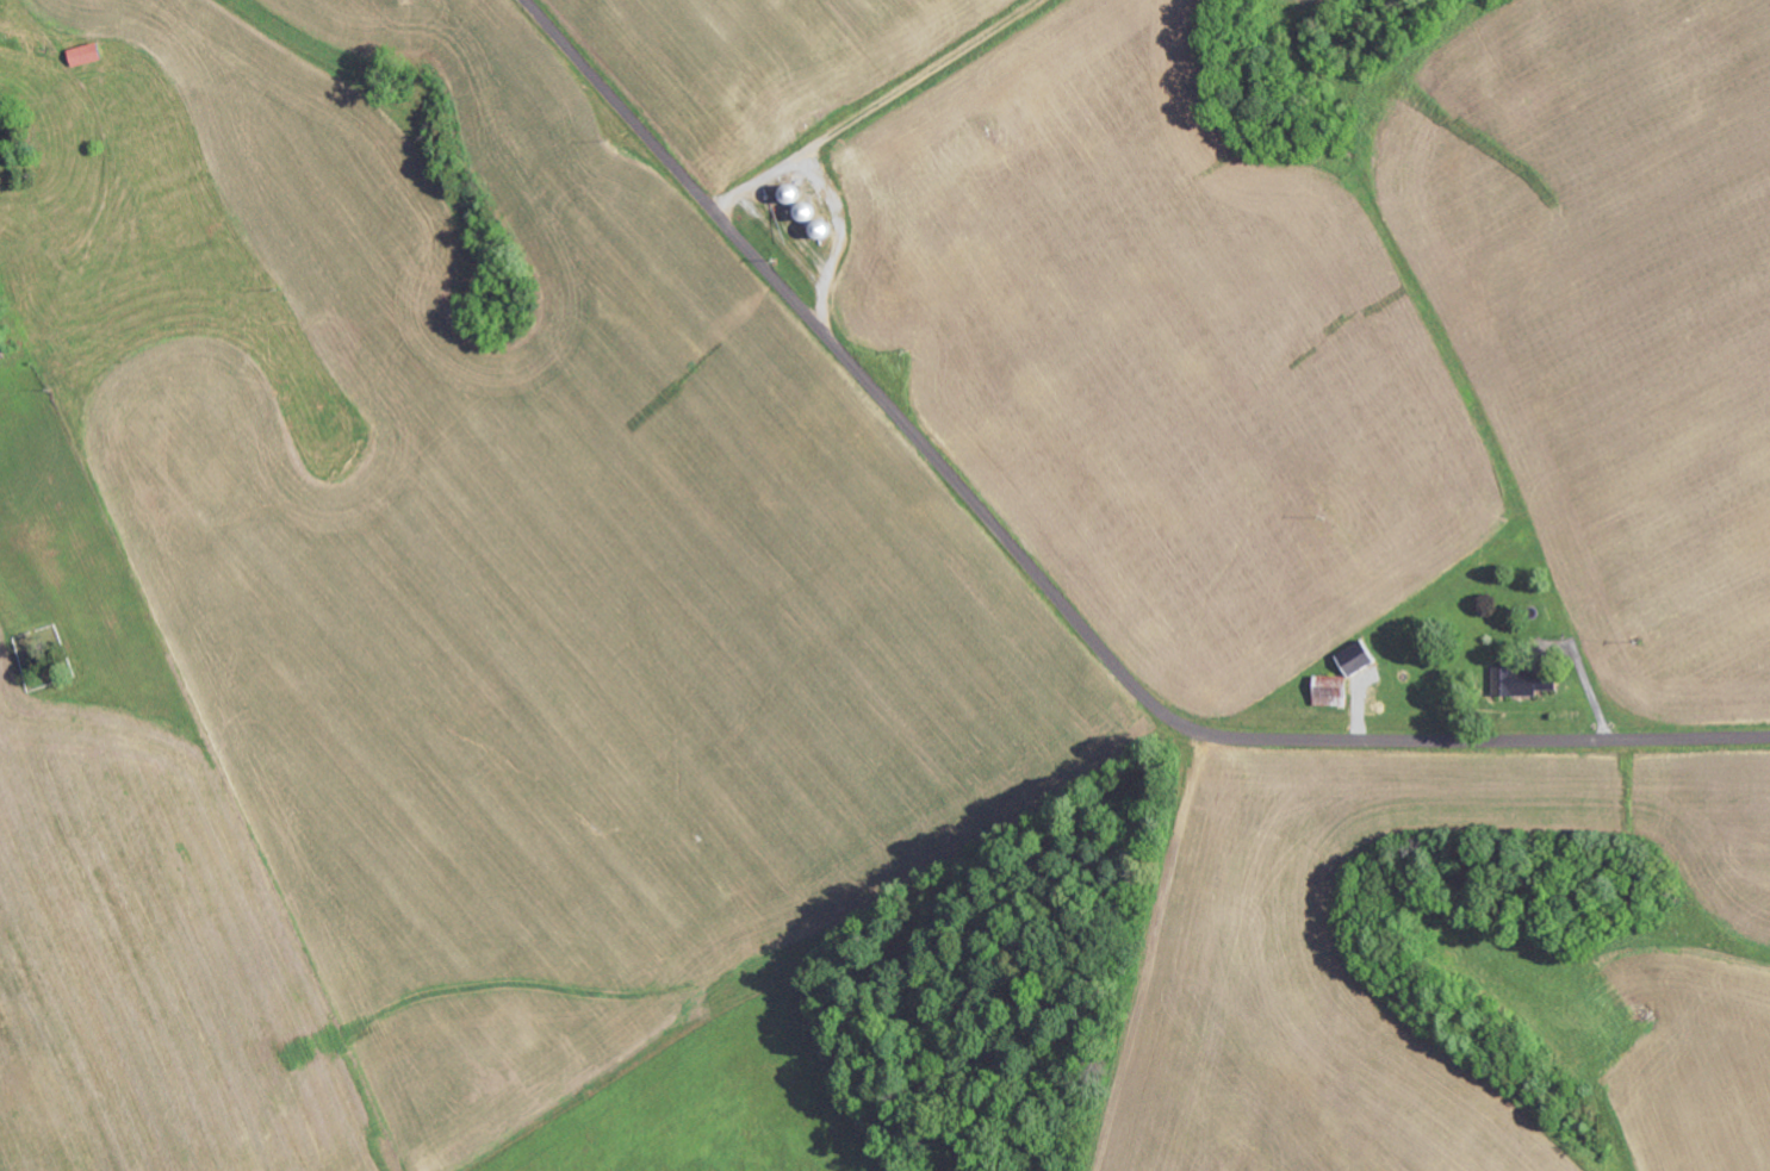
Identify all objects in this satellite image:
building: (89, 54)
road: (1044, 586)

